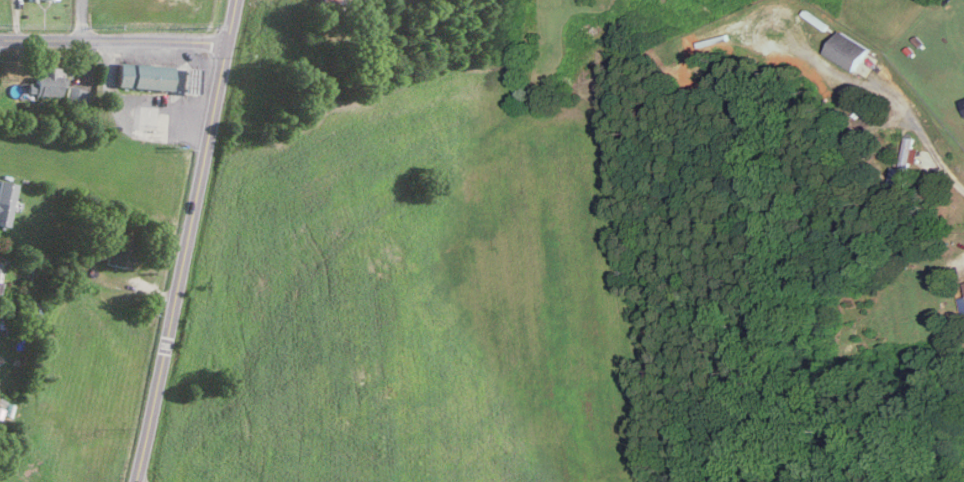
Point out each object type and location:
road: (80, 19)
road: (112, 40)
building: (848, 50)
building: (863, 67)
building: (143, 76)
building: (188, 79)
building: (44, 84)
building: (75, 95)
building: (963, 99)
road: (133, 100)
road: (923, 135)
building: (903, 163)
building: (5, 200)
road: (184, 241)
building: (119, 250)
road: (134, 481)

